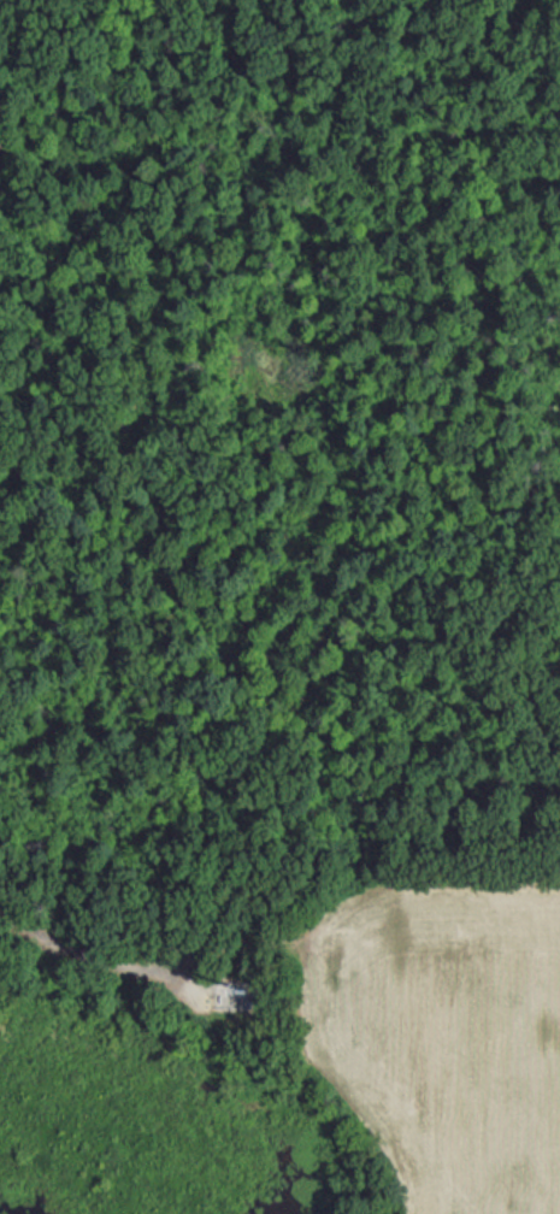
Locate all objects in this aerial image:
crop: (446, 1035)

